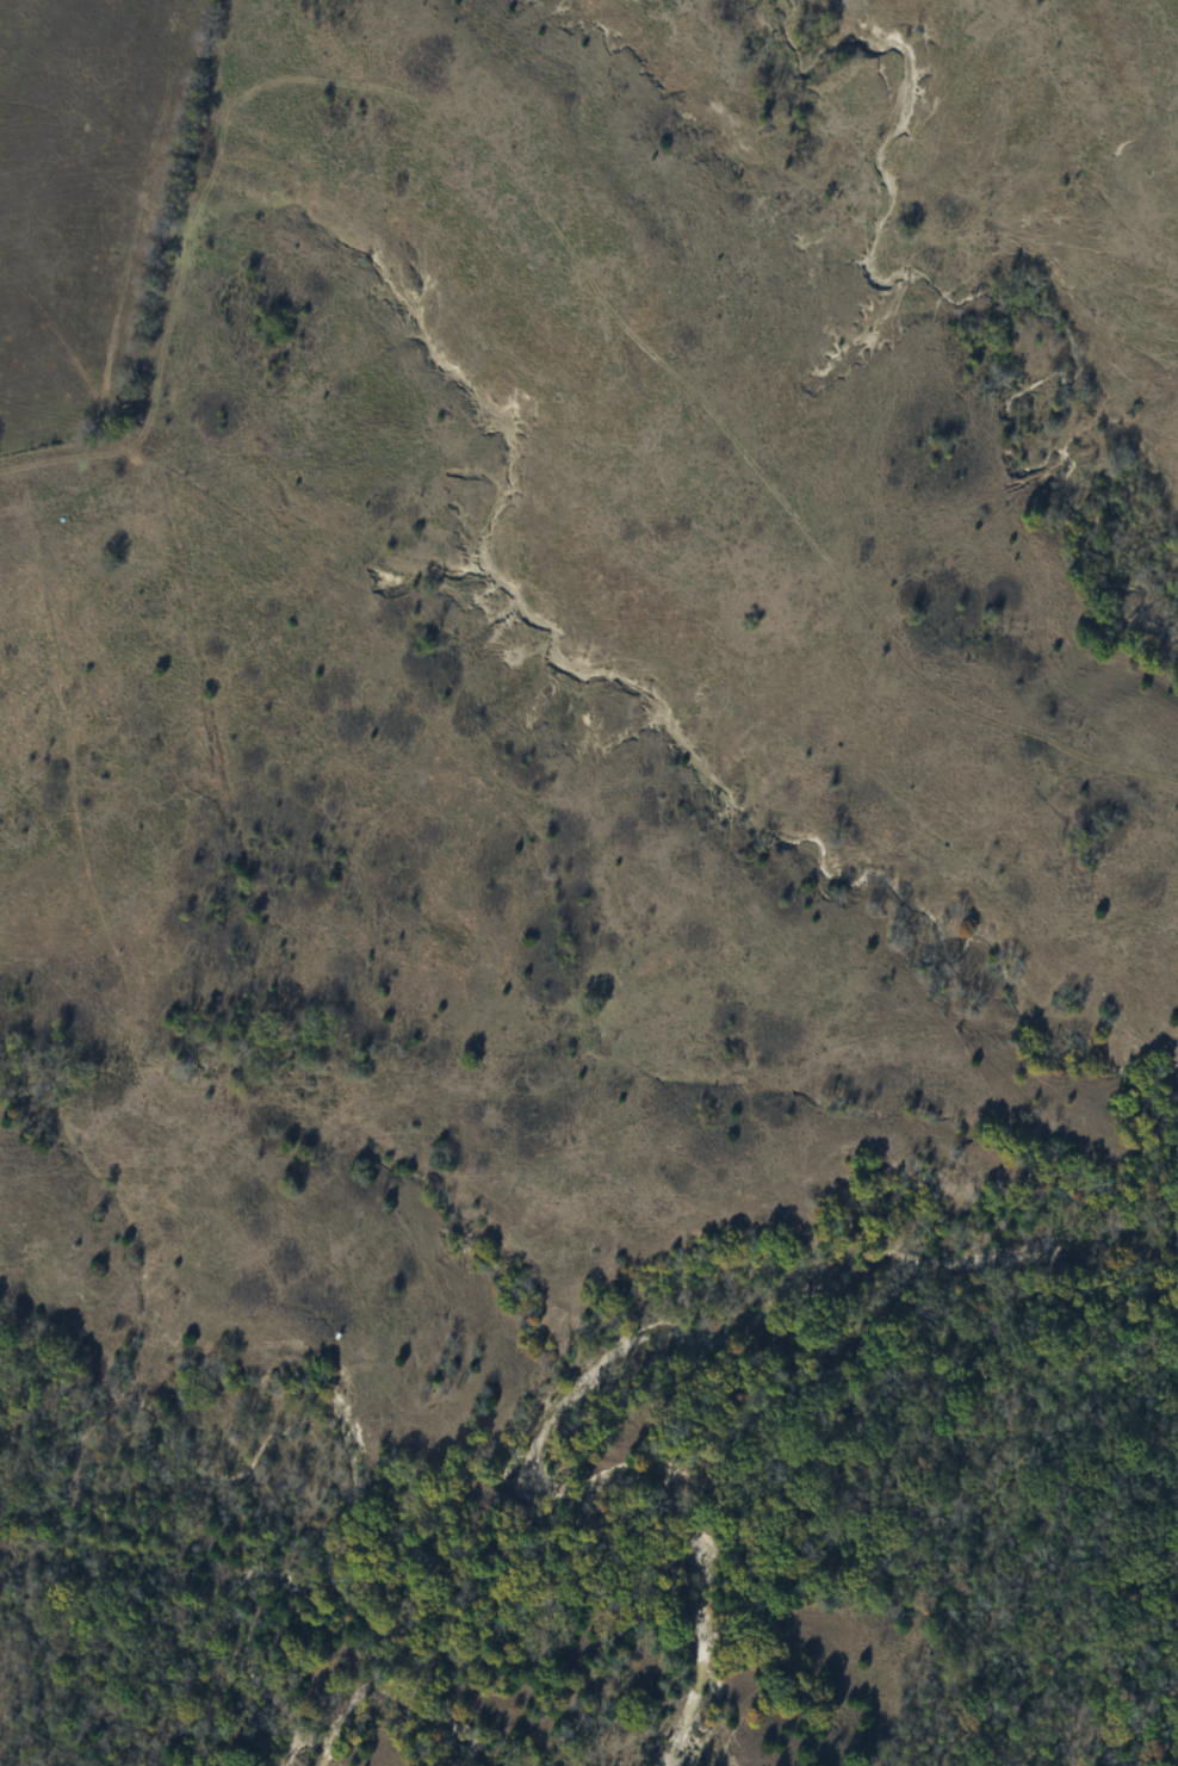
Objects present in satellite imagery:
road: (1108, 1656)

